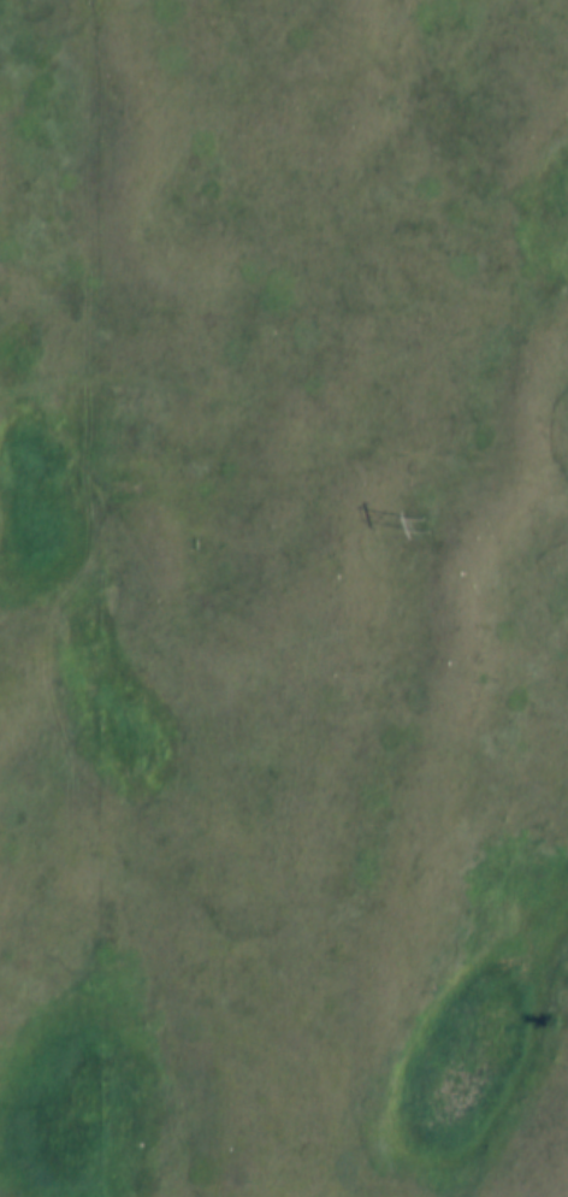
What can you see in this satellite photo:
power tower: (425, 524)

